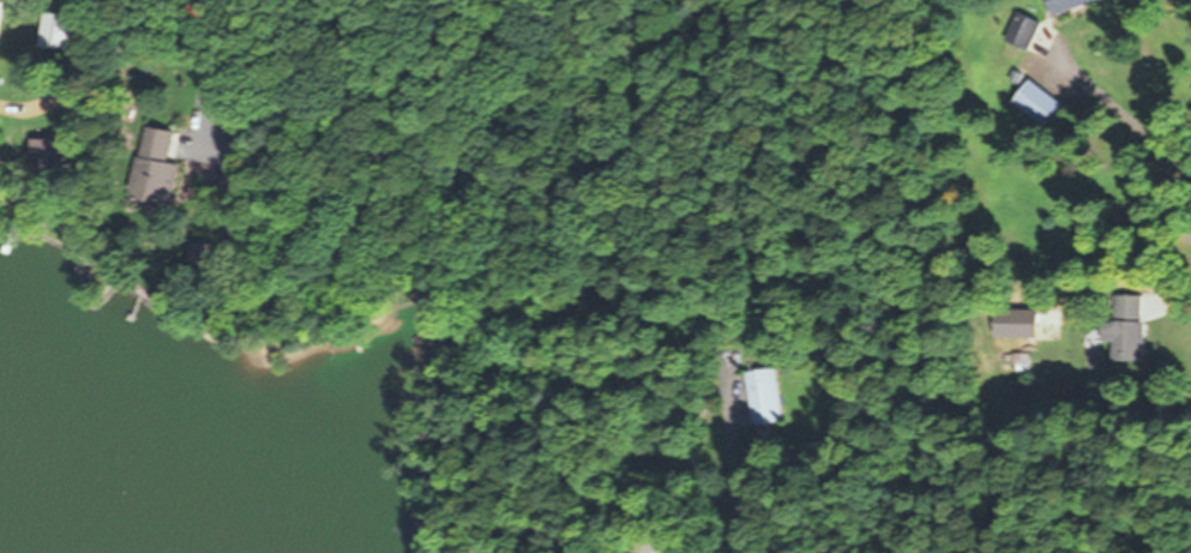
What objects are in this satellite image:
building: (1069, 5)
building: (1, 19)
building: (1024, 31)
building: (1040, 103)
building: (157, 168)
building: (1130, 326)
building: (764, 396)

